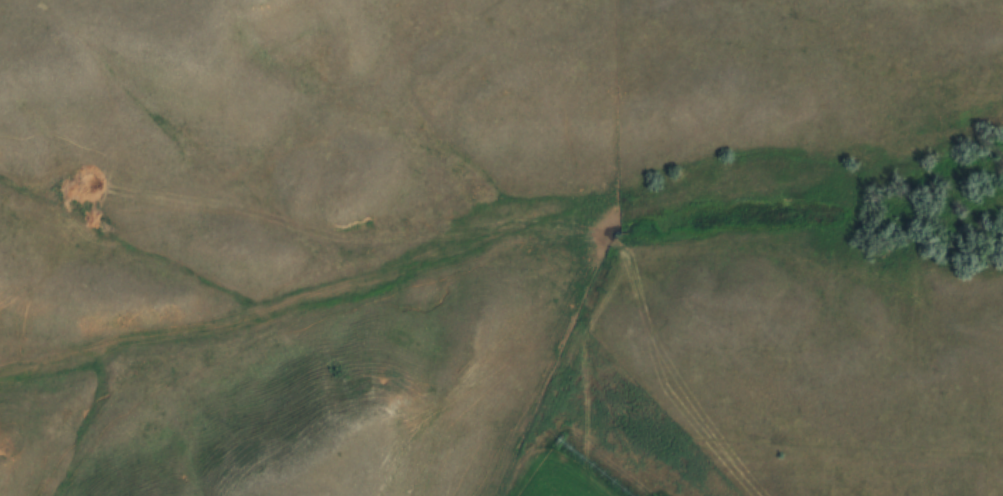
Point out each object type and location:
crop: (604, 439)

